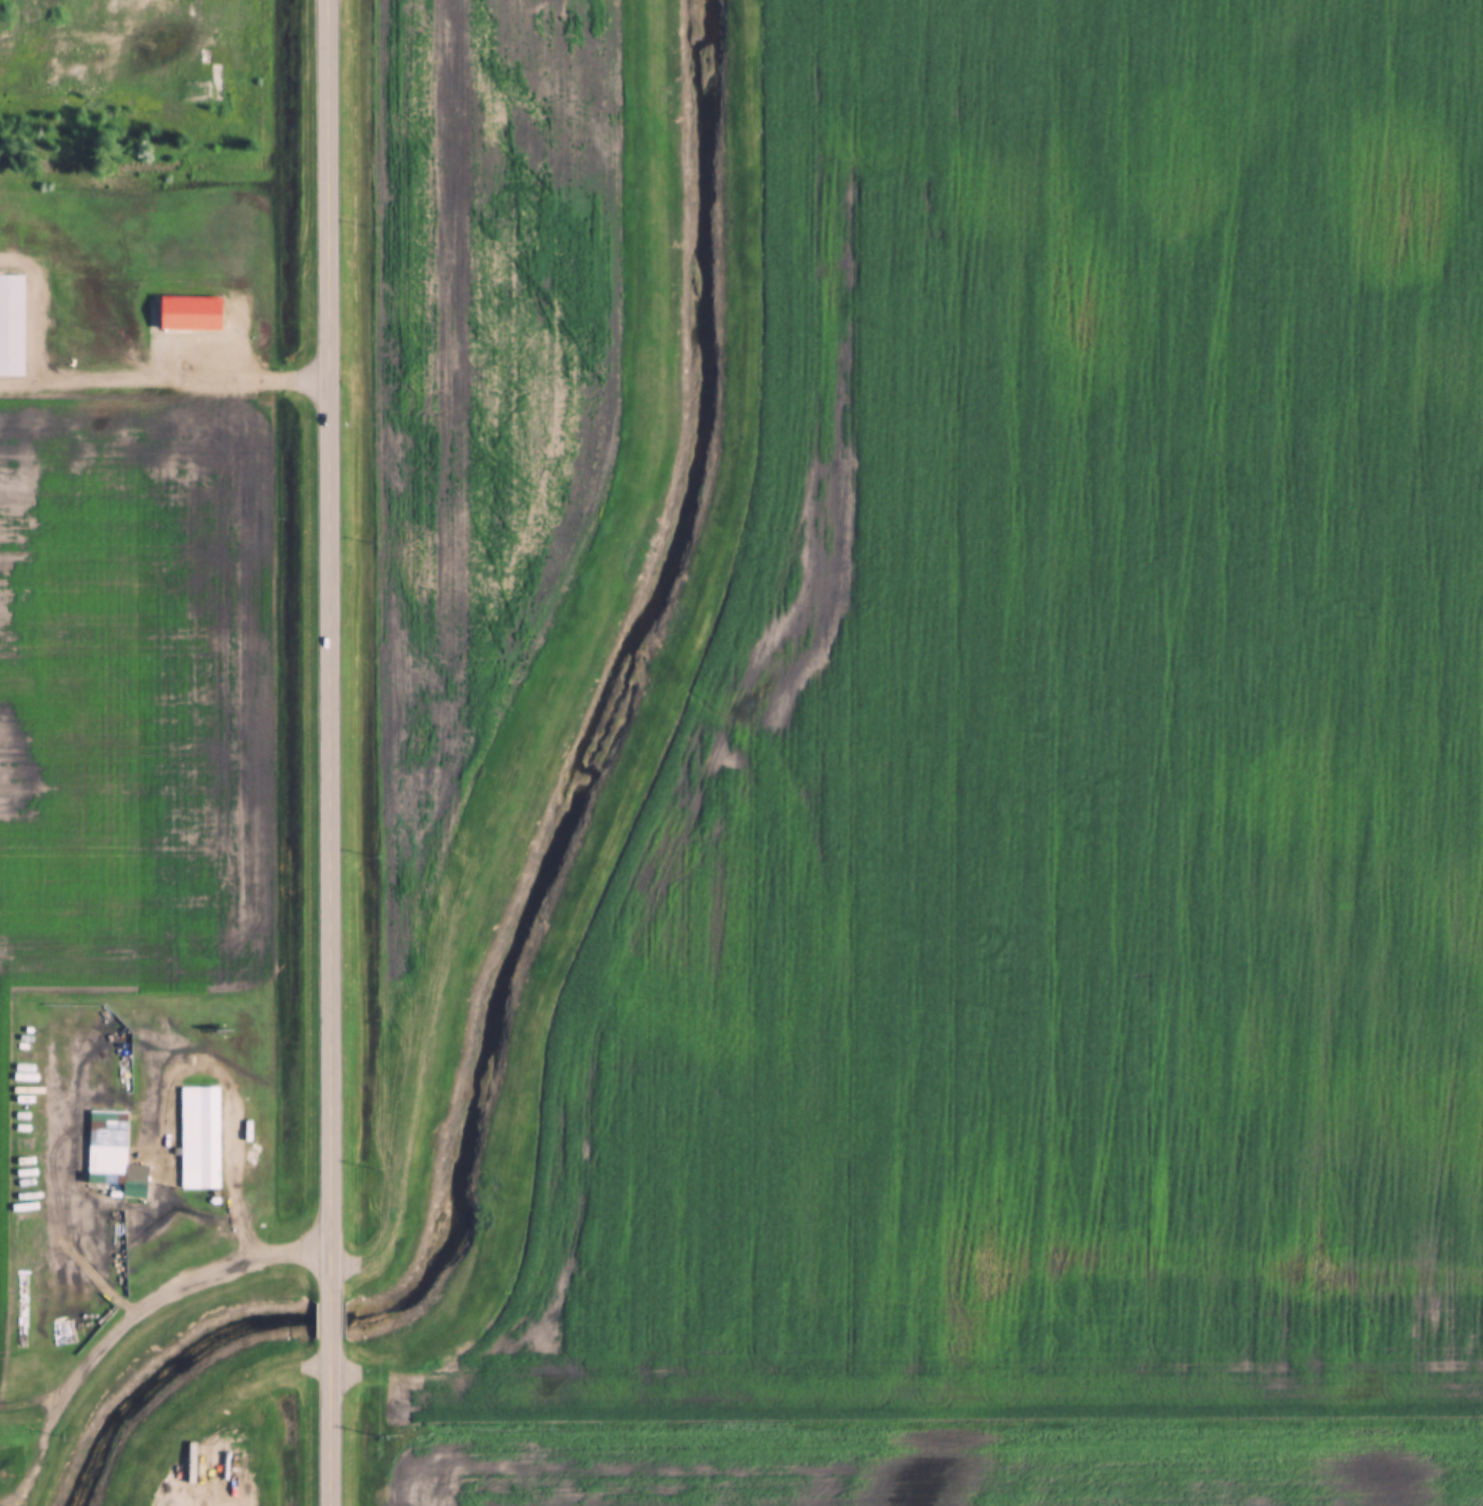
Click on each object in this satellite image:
building: (184, 315)
building: (8, 325)
crop: (484, 398)
road: (329, 652)
crop: (136, 689)
crop: (1045, 812)
building: (201, 1135)
building: (251, 1153)
building: (134, 1189)
road: (248, 1234)
road: (336, 1322)
road: (335, 1423)

